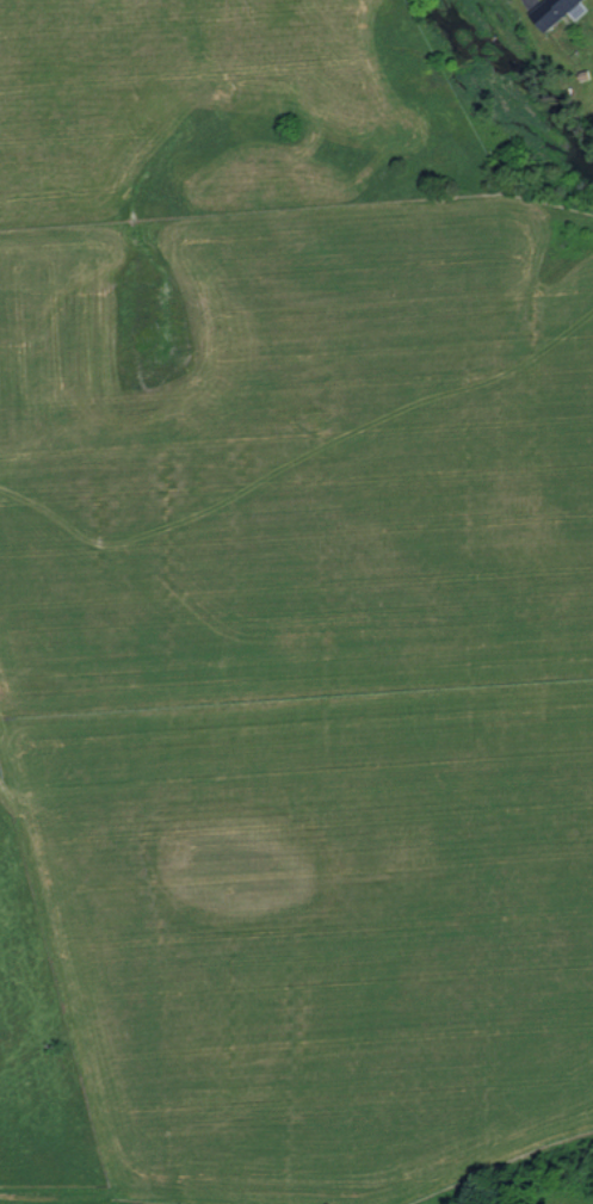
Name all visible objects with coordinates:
road: (527, 0)
building: (550, 11)

